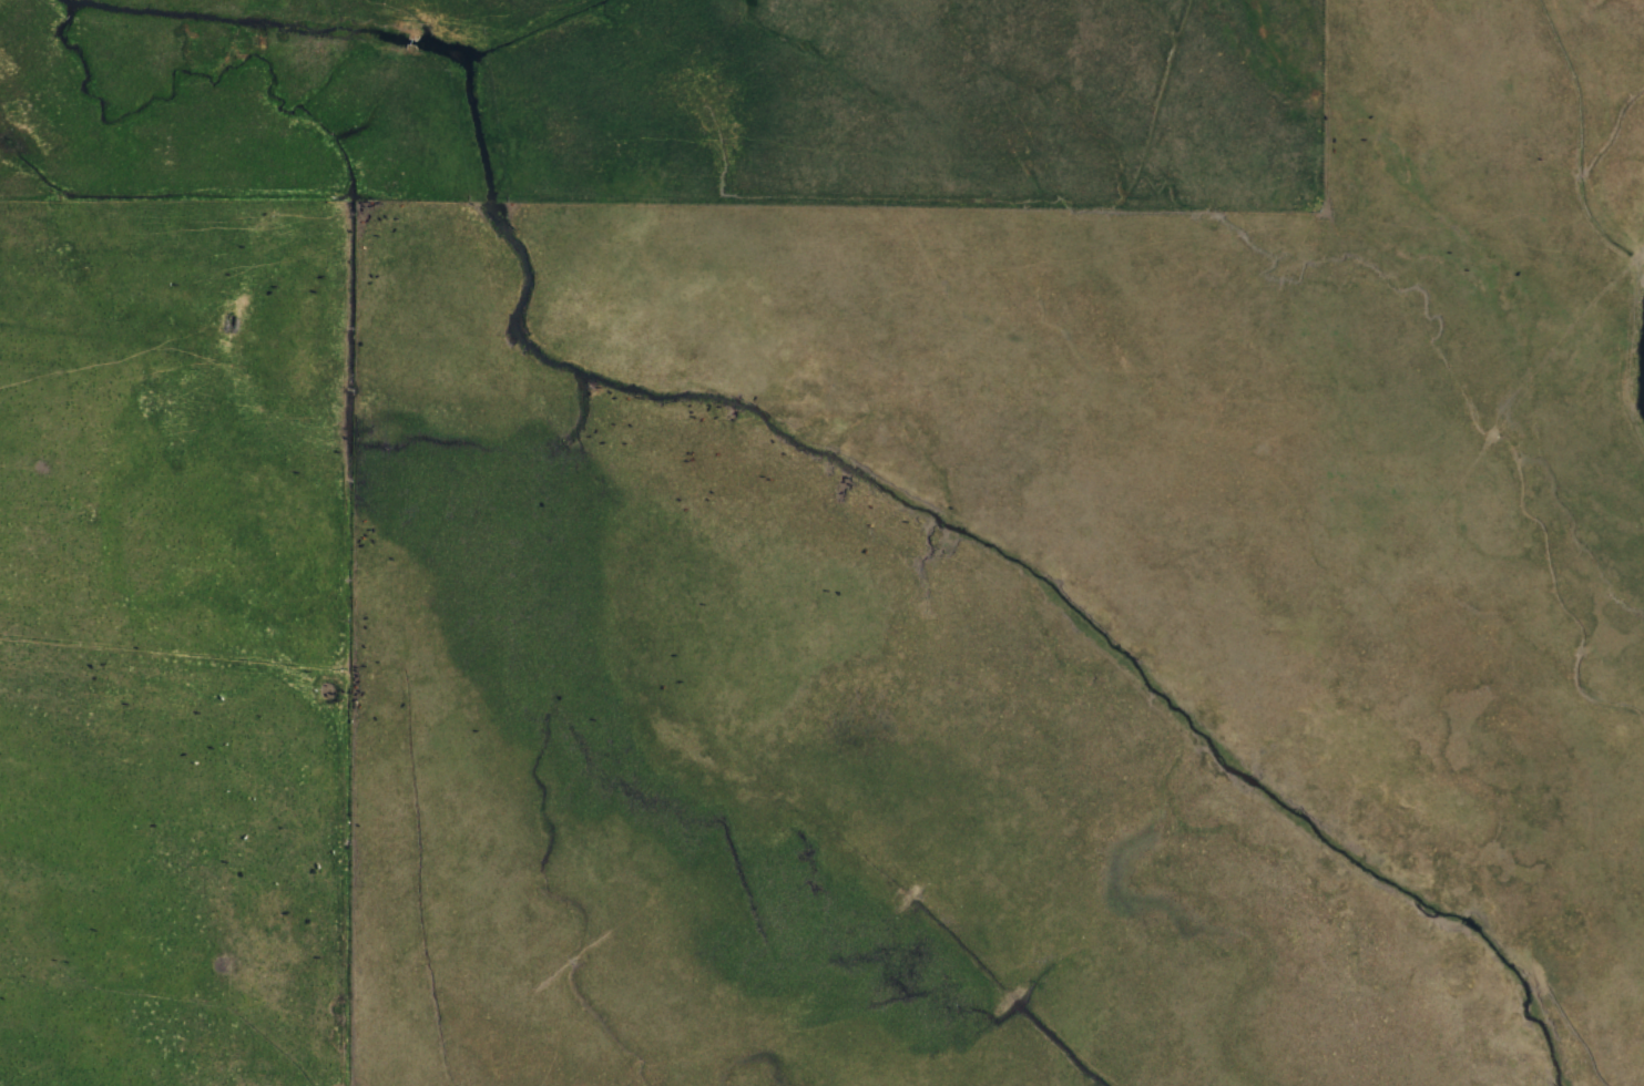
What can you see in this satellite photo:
crop: (875, 516)

